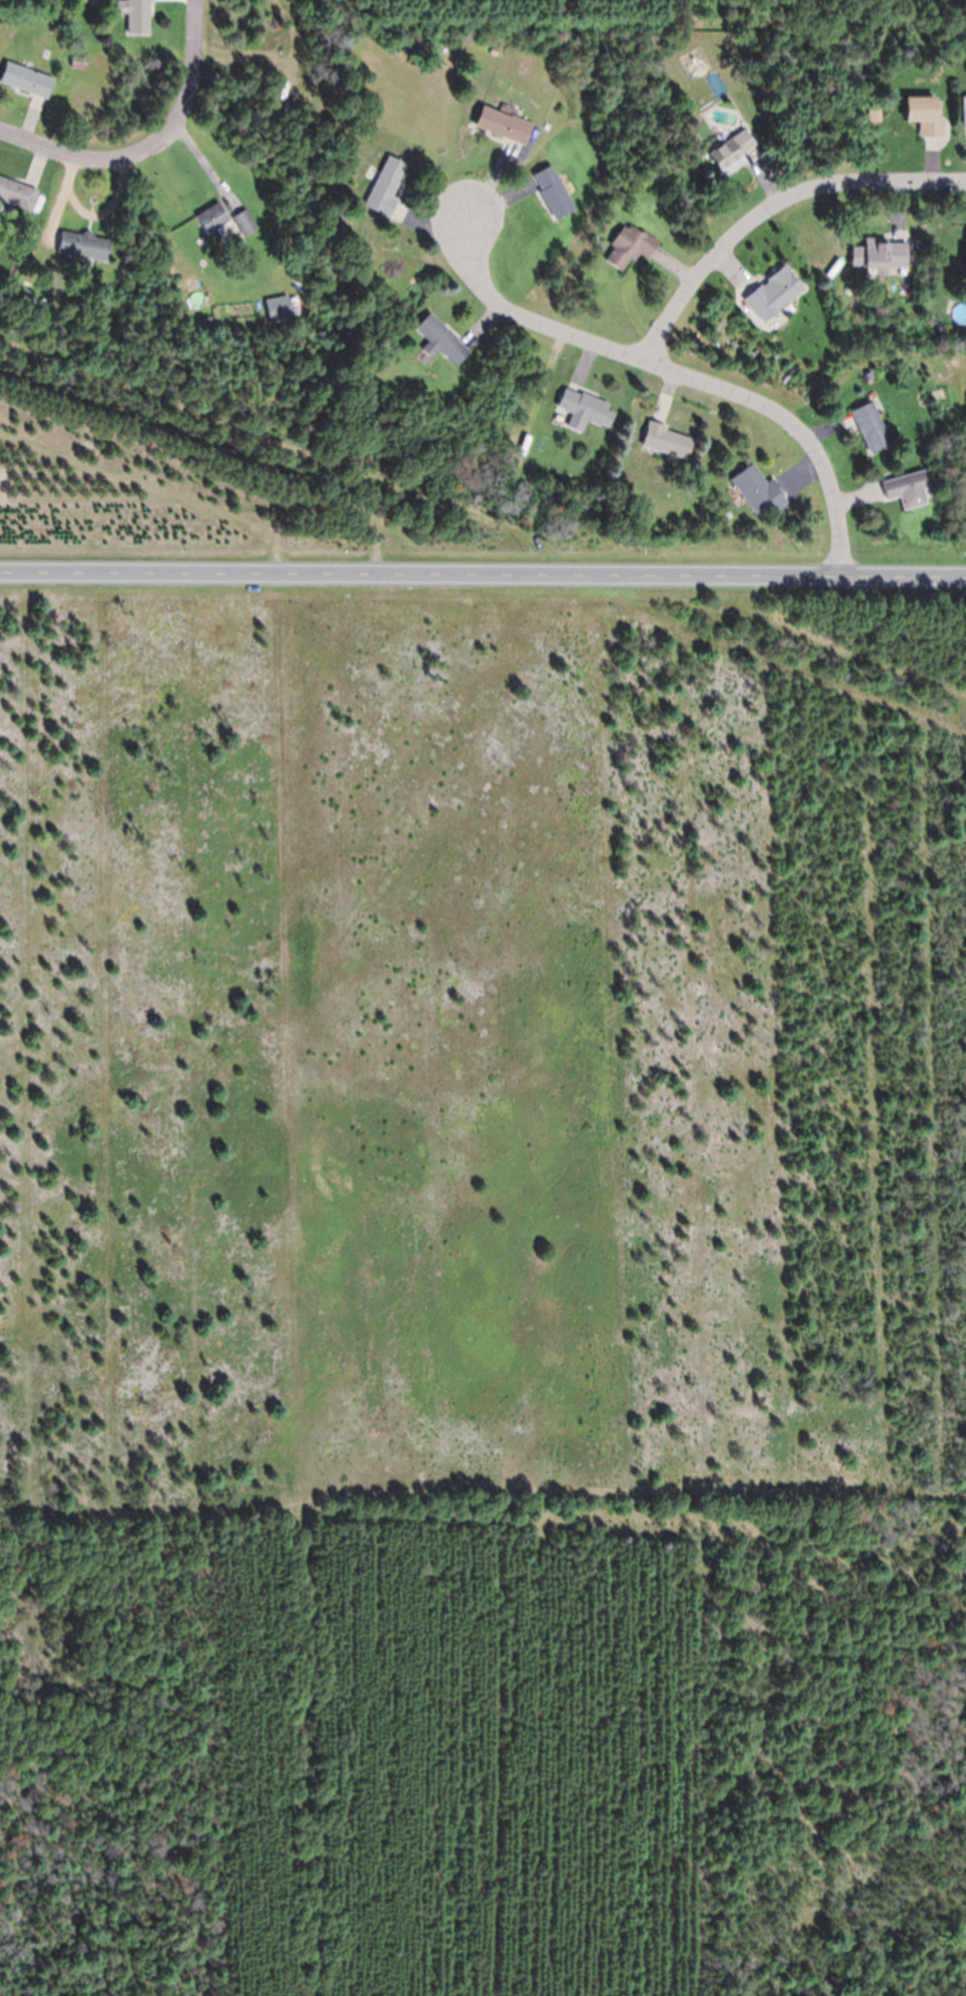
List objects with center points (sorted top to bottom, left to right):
building: (95, 1)
building: (304, 2)
building: (135, 15)
building: (78, 59)
building: (25, 79)
building: (108, 84)
road: (187, 92)
building: (964, 111)
building: (873, 113)
building: (923, 114)
building: (502, 124)
building: (730, 149)
road: (62, 152)
building: (385, 187)
building: (17, 193)
building: (556, 199)
road: (770, 206)
building: (212, 218)
building: (245, 221)
building: (83, 245)
building: (629, 246)
building: (964, 253)
building: (879, 254)
building: (292, 266)
building: (772, 293)
building: (278, 307)
building: (938, 326)
building: (440, 339)
building: (806, 345)
road: (682, 373)
building: (585, 406)
building: (869, 426)
building: (666, 440)
building: (907, 490)
building: (758, 492)
crop: (116, 500)
building: (611, 510)
road: (483, 566)

